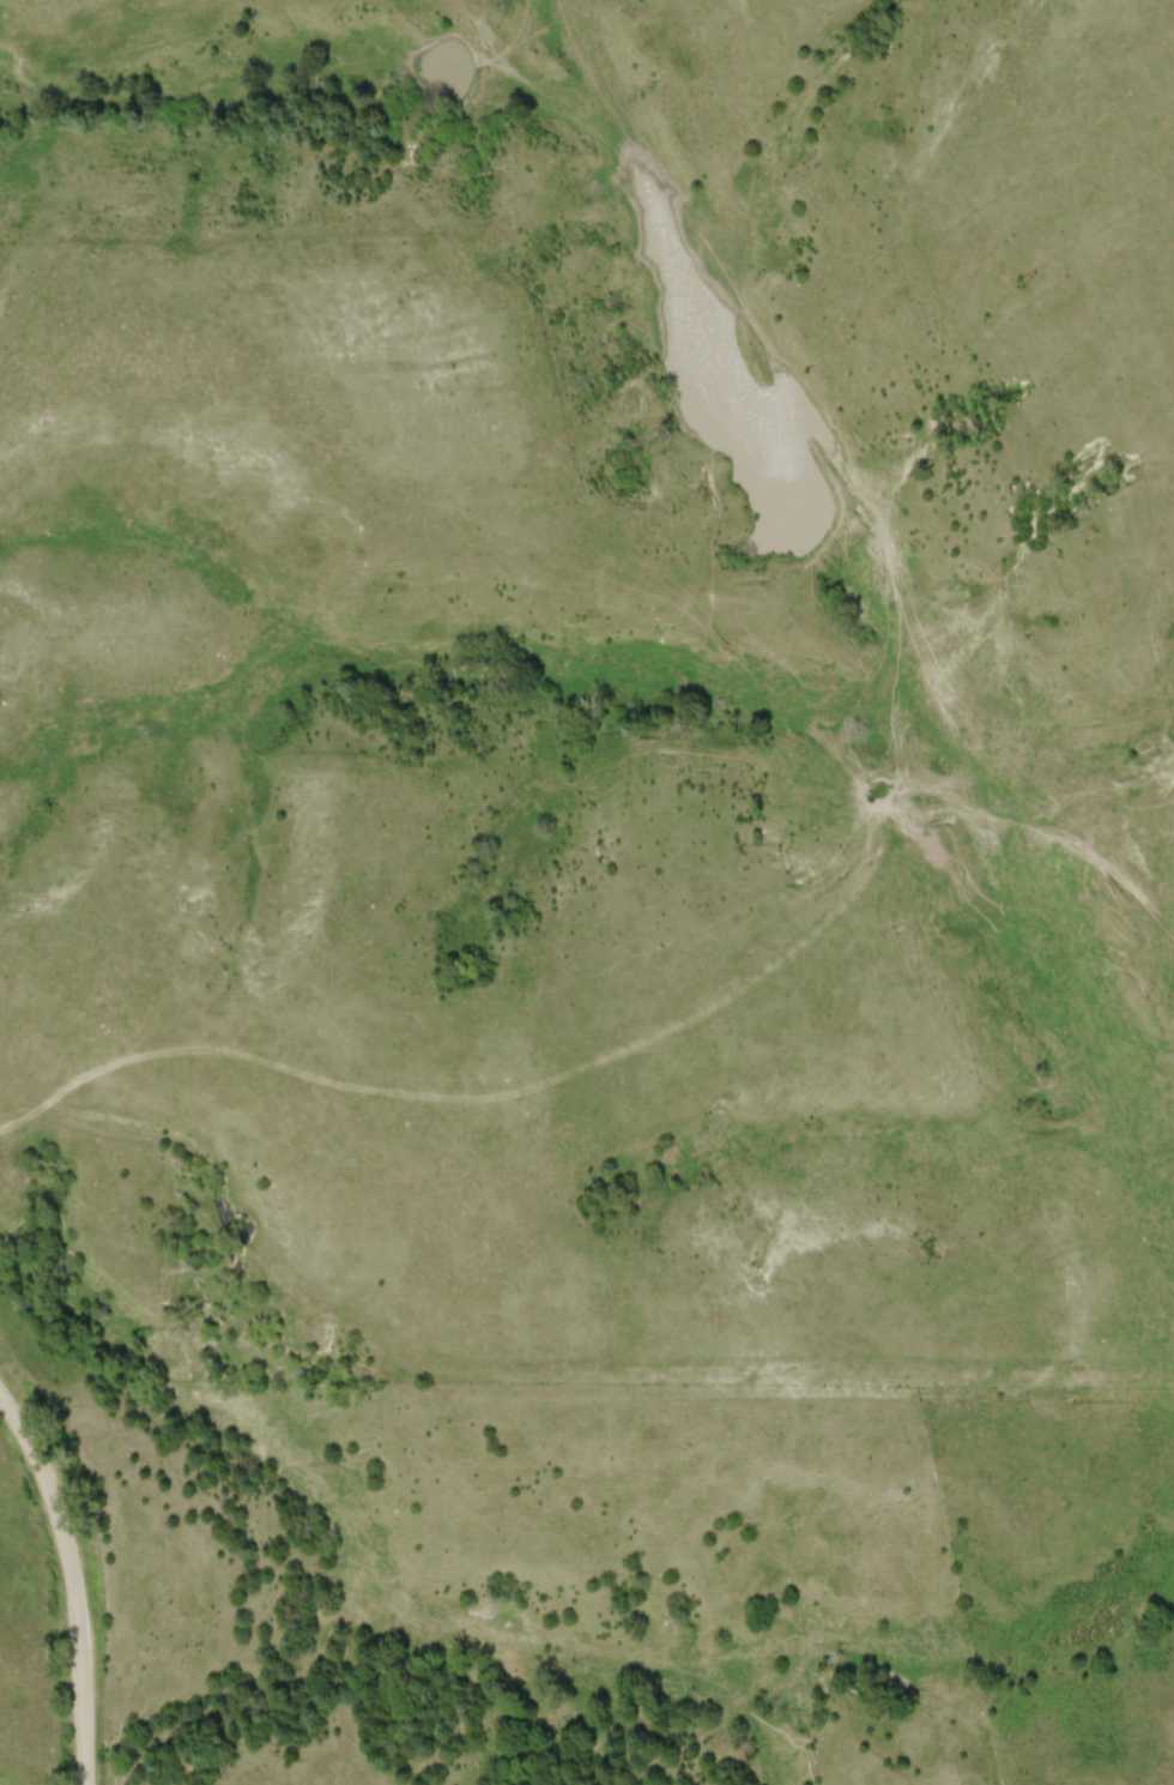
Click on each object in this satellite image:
road: (75, 1579)

